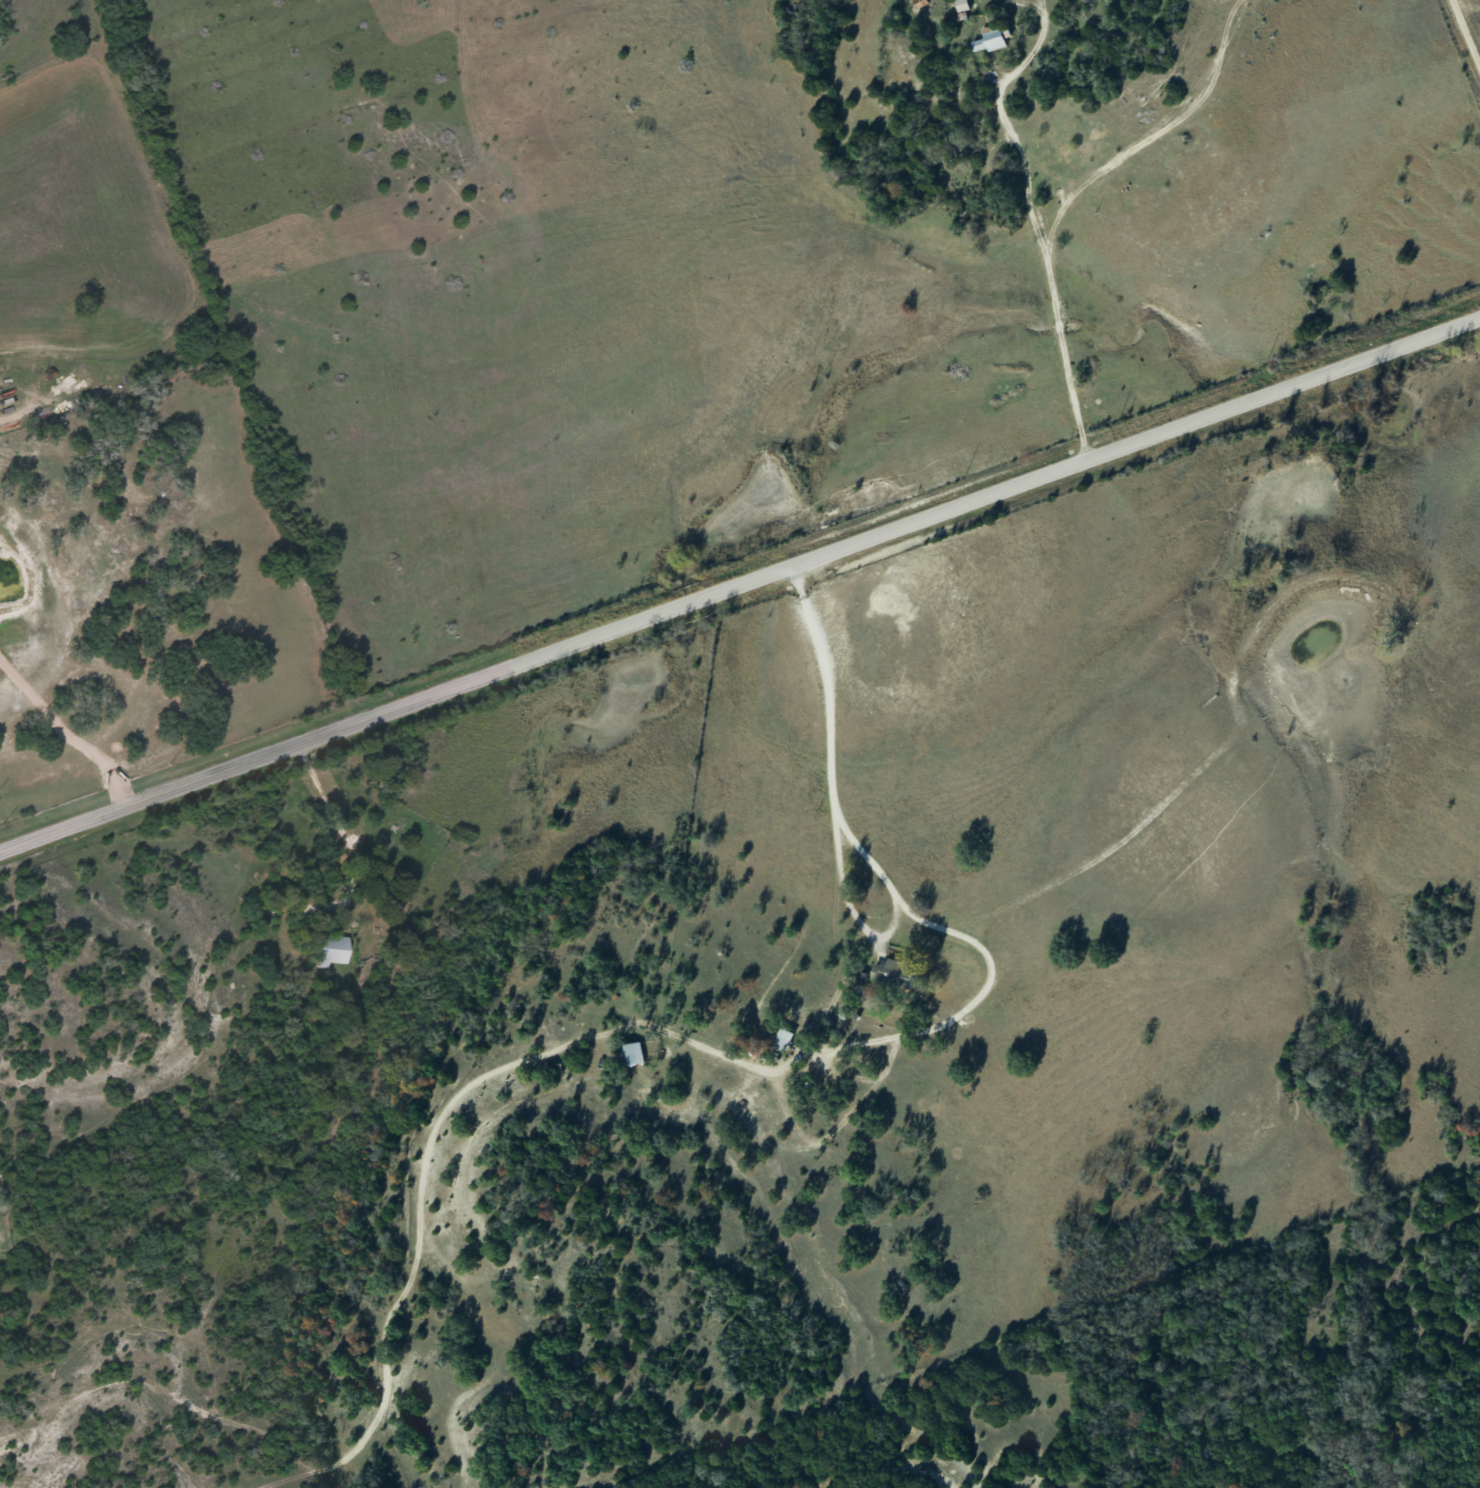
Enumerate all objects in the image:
building: (988, 40)
road: (1464, 40)
road: (1030, 222)
road: (740, 583)
road: (66, 732)
road: (337, 823)
road: (833, 831)
building: (330, 950)
building: (892, 973)
road: (916, 1032)
building: (781, 1039)
building: (630, 1054)

